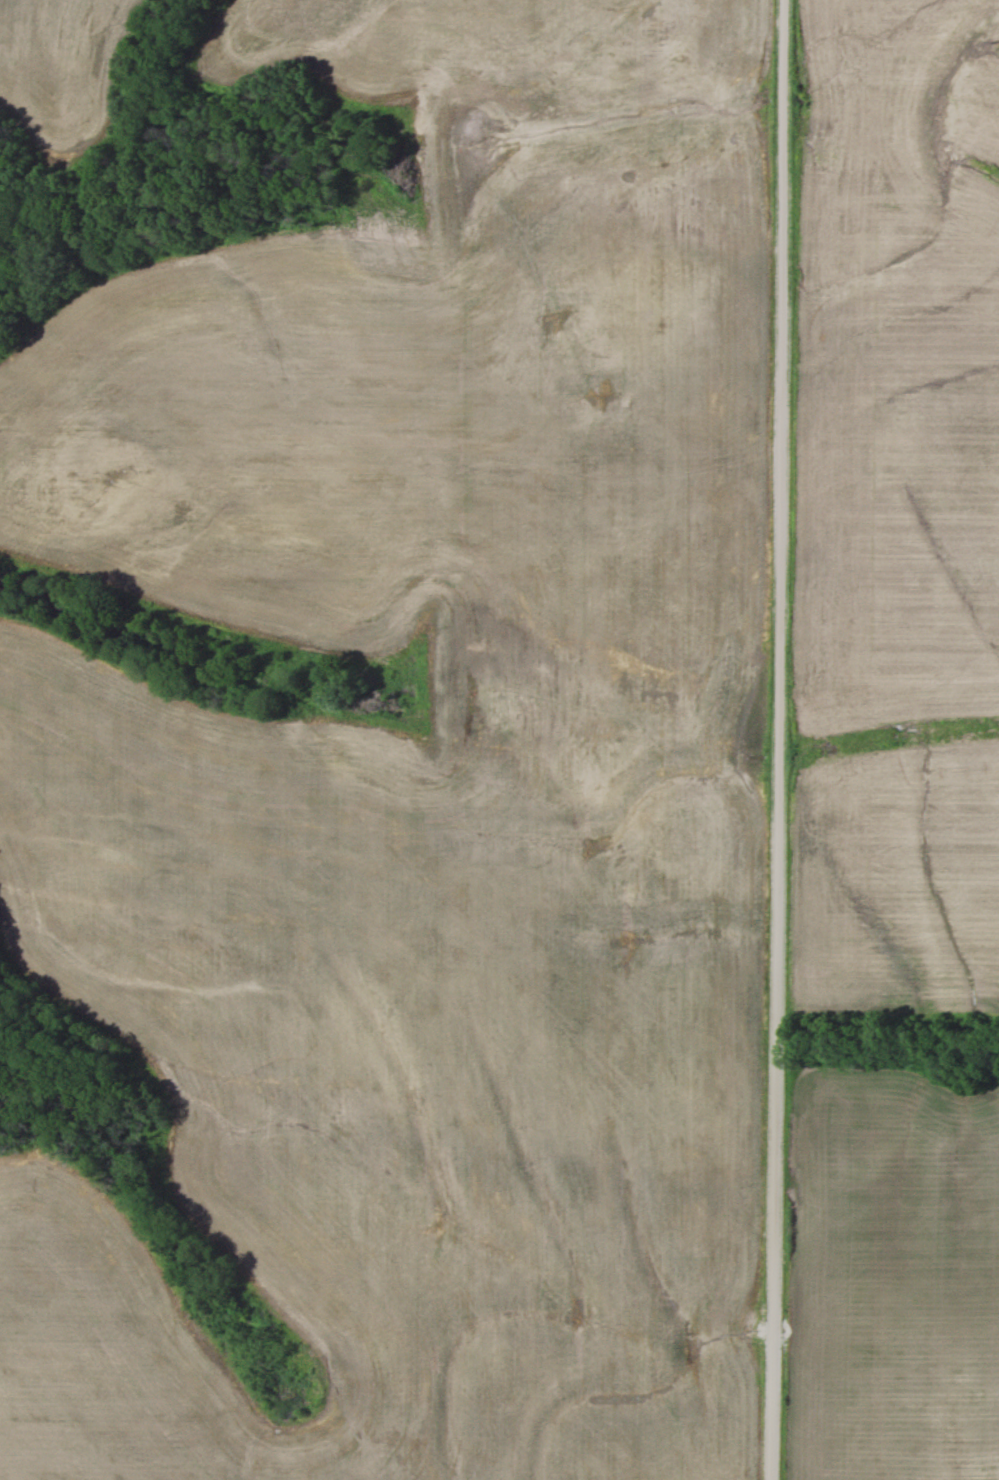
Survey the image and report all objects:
road: (769, 740)

